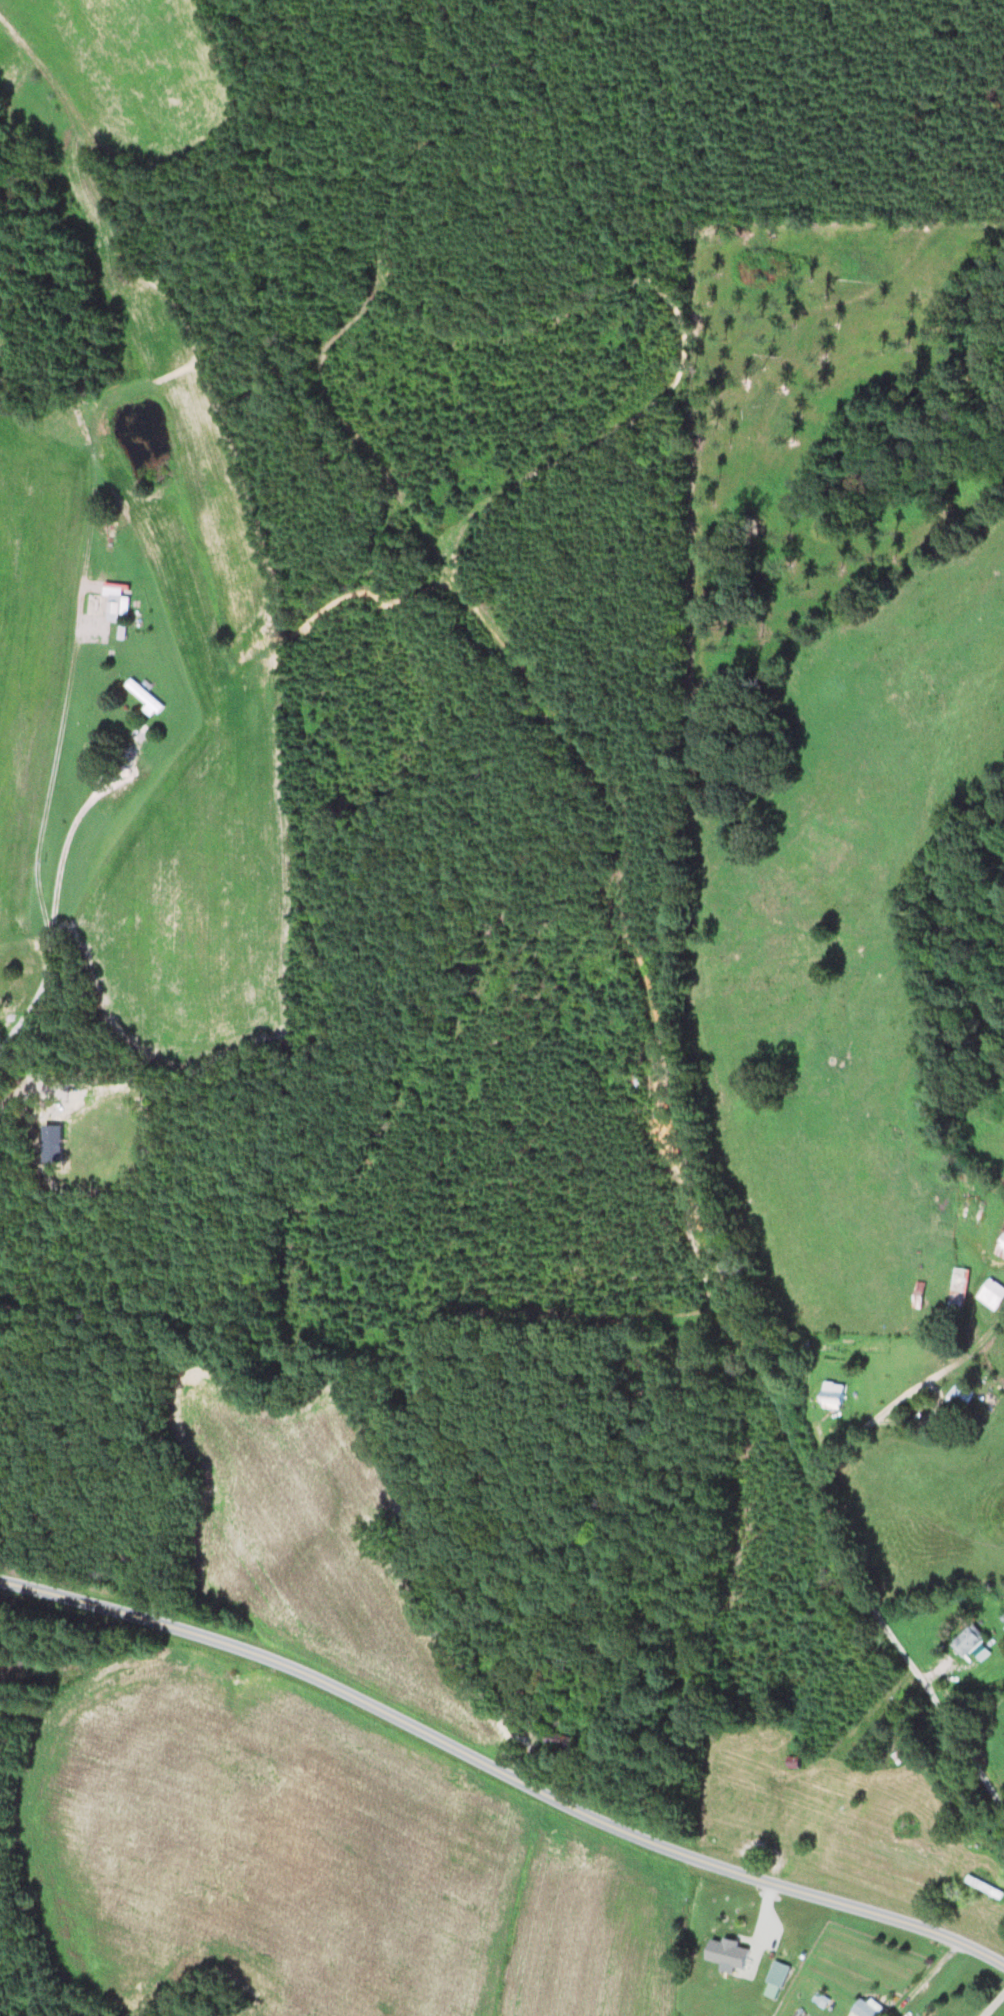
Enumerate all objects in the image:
building: (117, 610)
building: (146, 700)
road: (52, 773)
road: (56, 895)
building: (961, 1291)
building: (994, 1296)
road: (954, 1364)
building: (837, 1397)
building: (963, 1398)
road: (874, 1605)
building: (970, 1642)
building: (904, 1757)
building: (800, 1764)
road: (502, 1769)
building: (986, 1889)
building: (726, 1954)
road: (931, 1980)
building: (779, 1981)
road: (997, 2008)
building: (871, 2010)

